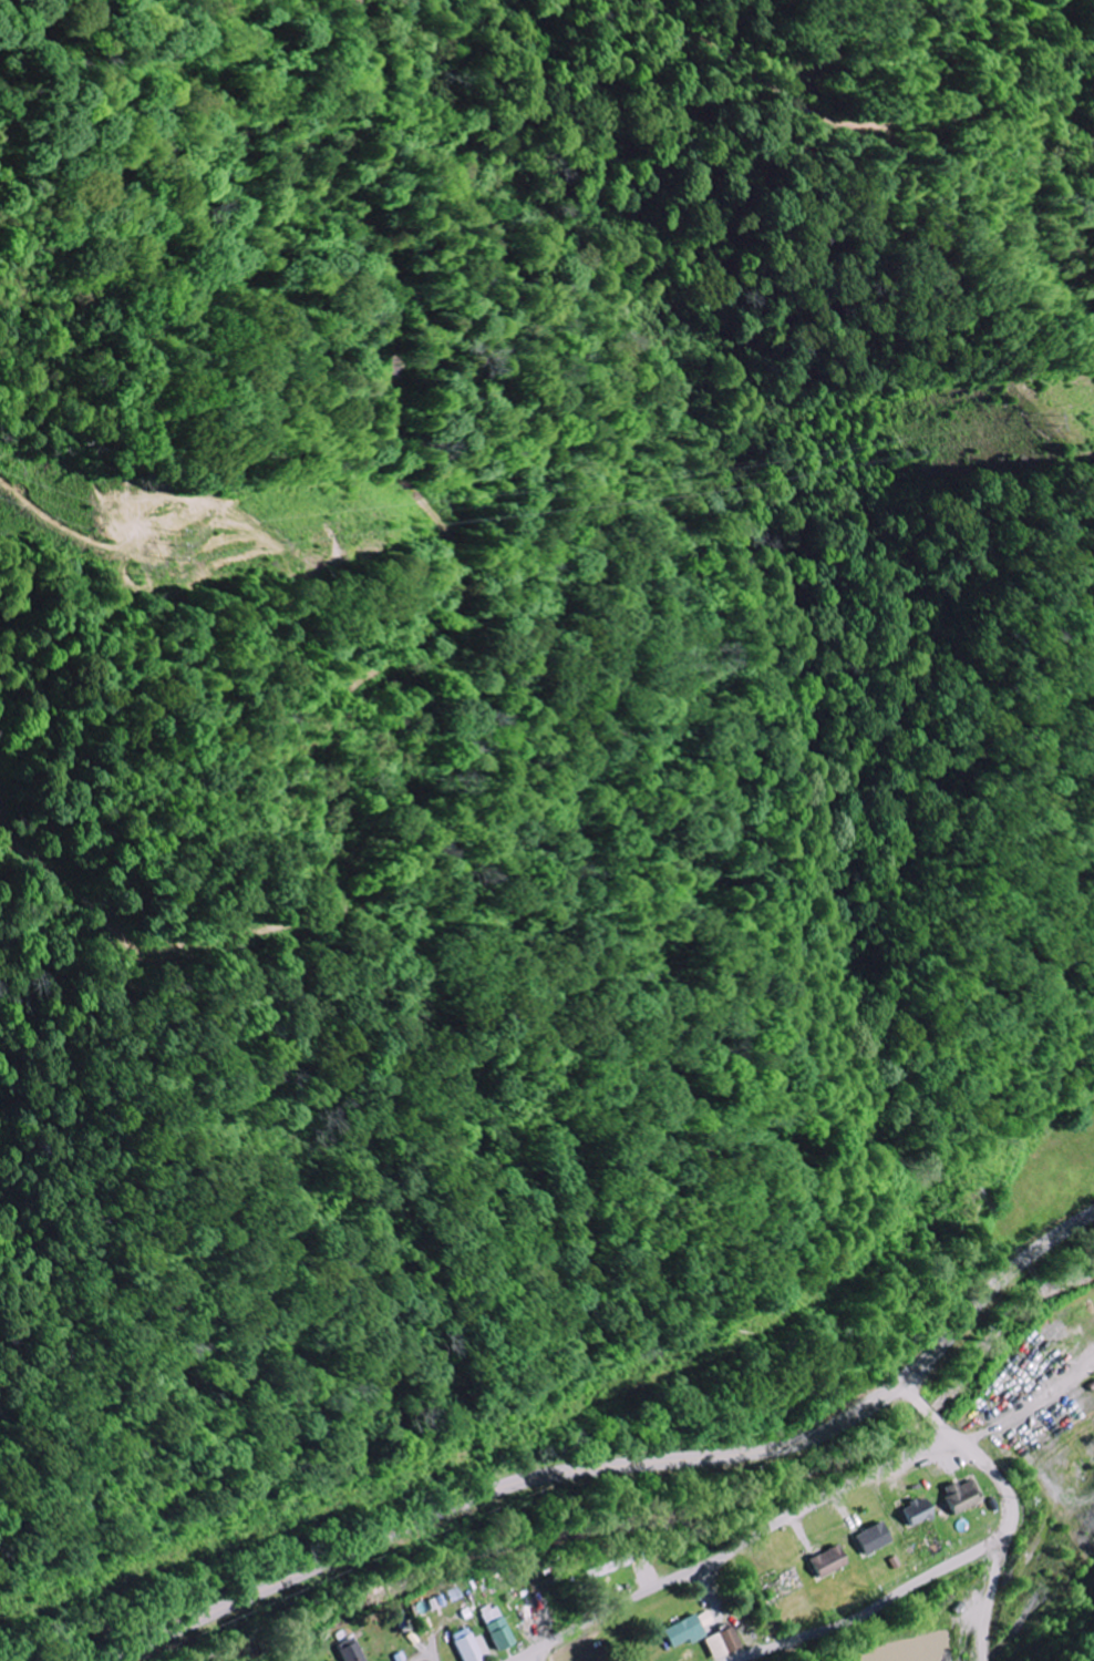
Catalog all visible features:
road: (621, 1464)
road: (1052, 1494)
building: (963, 1496)
building: (918, 1511)
building: (874, 1538)
road: (739, 1548)
building: (829, 1561)
road: (964, 1562)
building: (608, 1567)
building: (706, 1619)
building: (498, 1628)
building: (687, 1632)
building: (724, 1643)
building: (475, 1648)
building: (352, 1651)
road: (429, 1657)

